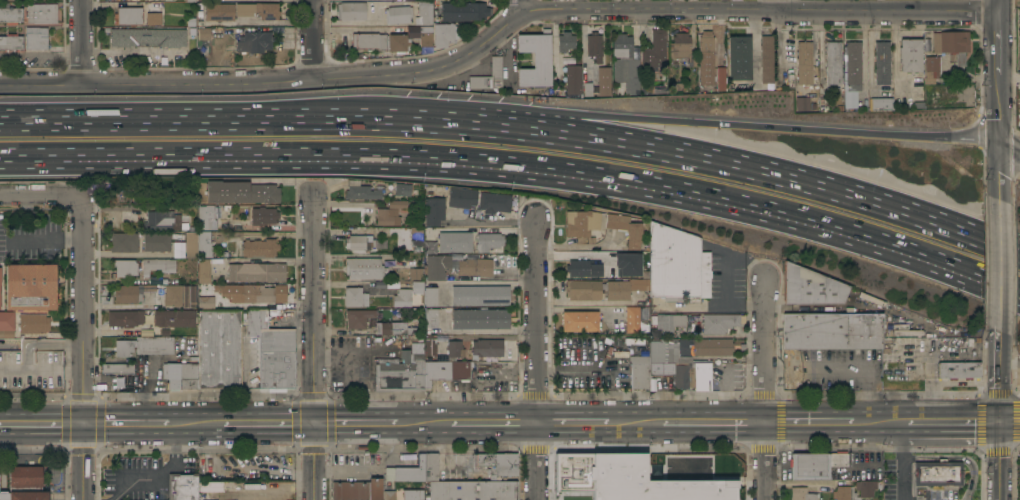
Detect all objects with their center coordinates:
building: (191, 0)
park: (1018, 2)
road: (776, 5)
road: (1000, 5)
road: (519, 8)
building: (267, 10)
building: (465, 10)
building: (154, 11)
building: (219, 11)
building: (351, 11)
building: (424, 12)
building: (10, 13)
building: (42, 13)
building: (398, 14)
building: (128, 15)
road: (354, 29)
building: (203, 32)
building: (447, 33)
road: (498, 33)
building: (36, 37)
building: (147, 37)
road: (313, 39)
building: (11, 41)
building: (255, 41)
building: (390, 41)
building: (566, 41)
road: (82, 42)
building: (952, 44)
building: (594, 45)
building: (622, 45)
road: (1000, 46)
building: (424, 47)
building: (682, 48)
road: (894, 49)
building: (654, 50)
building: (910, 54)
building: (706, 57)
building: (738, 57)
road: (483, 58)
building: (535, 58)
building: (766, 58)
road: (506, 59)
building: (804, 62)
building: (833, 62)
building: (882, 62)
building: (852, 65)
building: (932, 68)
building: (628, 72)
building: (489, 76)
building: (720, 78)
building: (573, 79)
building: (603, 80)
road: (1010, 81)
building: (917, 91)
building: (861, 99)
building: (802, 103)
building: (881, 103)
road: (573, 113)
road: (74, 120)
road: (563, 135)
road: (997, 140)
road: (1009, 142)
road: (518, 166)
building: (402, 189)
building: (361, 191)
building: (240, 192)
building: (117, 194)
building: (478, 201)
building: (396, 204)
building: (433, 211)
building: (216, 212)
building: (263, 215)
building: (204, 216)
building: (387, 217)
building: (163, 221)
road: (497, 222)
building: (580, 223)
building: (212, 224)
building: (624, 229)
building: (416, 236)
building: (487, 241)
building: (123, 242)
building: (156, 242)
building: (359, 242)
building: (454, 242)
road: (993, 242)
building: (190, 244)
building: (203, 244)
building: (259, 247)
building: (429, 247)
road: (129, 253)
building: (626, 264)
building: (157, 265)
building: (676, 265)
building: (435, 266)
road: (84, 267)
building: (473, 267)
building: (577, 267)
building: (123, 268)
building: (363, 268)
building: (255, 271)
building: (415, 273)
road: (998, 273)
building: (154, 280)
road: (725, 280)
building: (391, 283)
building: (30, 286)
building: (207, 286)
building: (416, 286)
building: (808, 287)
building: (623, 288)
building: (583, 289)
building: (130, 292)
building: (259, 293)
building: (180, 295)
building: (480, 295)
building: (430, 296)
building: (354, 297)
building: (402, 297)
building: (869, 299)
road: (713, 307)
road: (314, 309)
building: (124, 318)
building: (174, 318)
building: (358, 318)
building: (480, 318)
building: (430, 319)
building: (631, 319)
building: (6, 321)
building: (579, 321)
building: (715, 322)
building: (33, 323)
building: (898, 326)
building: (393, 328)
building: (831, 330)
building: (905, 332)
building: (6, 334)
building: (430, 344)
building: (144, 345)
building: (272, 347)
building: (486, 347)
building: (219, 348)
building: (454, 349)
building: (682, 349)
building: (192, 350)
road: (537, 359)
building: (174, 360)
building: (30, 368)
parking lot: (30, 368)
building: (117, 368)
building: (958, 369)
road: (842, 370)
building: (638, 371)
building: (399, 373)
building: (448, 373)
building: (659, 373)
building: (180, 375)
building: (702, 377)
road: (1000, 384)
road: (766, 389)
road: (1010, 420)
road: (954, 421)
traffic signals: (1001, 421)
road: (809, 422)
road: (880, 422)
road: (129, 423)
road: (198, 423)
road: (494, 423)
road: (572, 423)
road: (714, 423)
road: (42, 424)
traffic signals: (84, 424)
road: (268, 424)
traffic signals: (314, 424)
road: (355, 424)
road: (423, 424)
road: (635, 424)
road: (1001, 460)
building: (605, 461)
road: (901, 461)
road: (84, 462)
road: (314, 462)
building: (498, 463)
building: (681, 463)
building: (639, 464)
building: (815, 464)
building: (430, 466)
road: (158, 470)
building: (406, 471)
building: (938, 473)
building: (609, 478)
building: (25, 484)
building: (182, 486)
building: (636, 488)
building: (357, 489)
building: (473, 489)
building: (715, 490)
building: (842, 491)
building: (605, 492)
building: (1019, 492)
building: (802, 493)
building: (403, 494)

